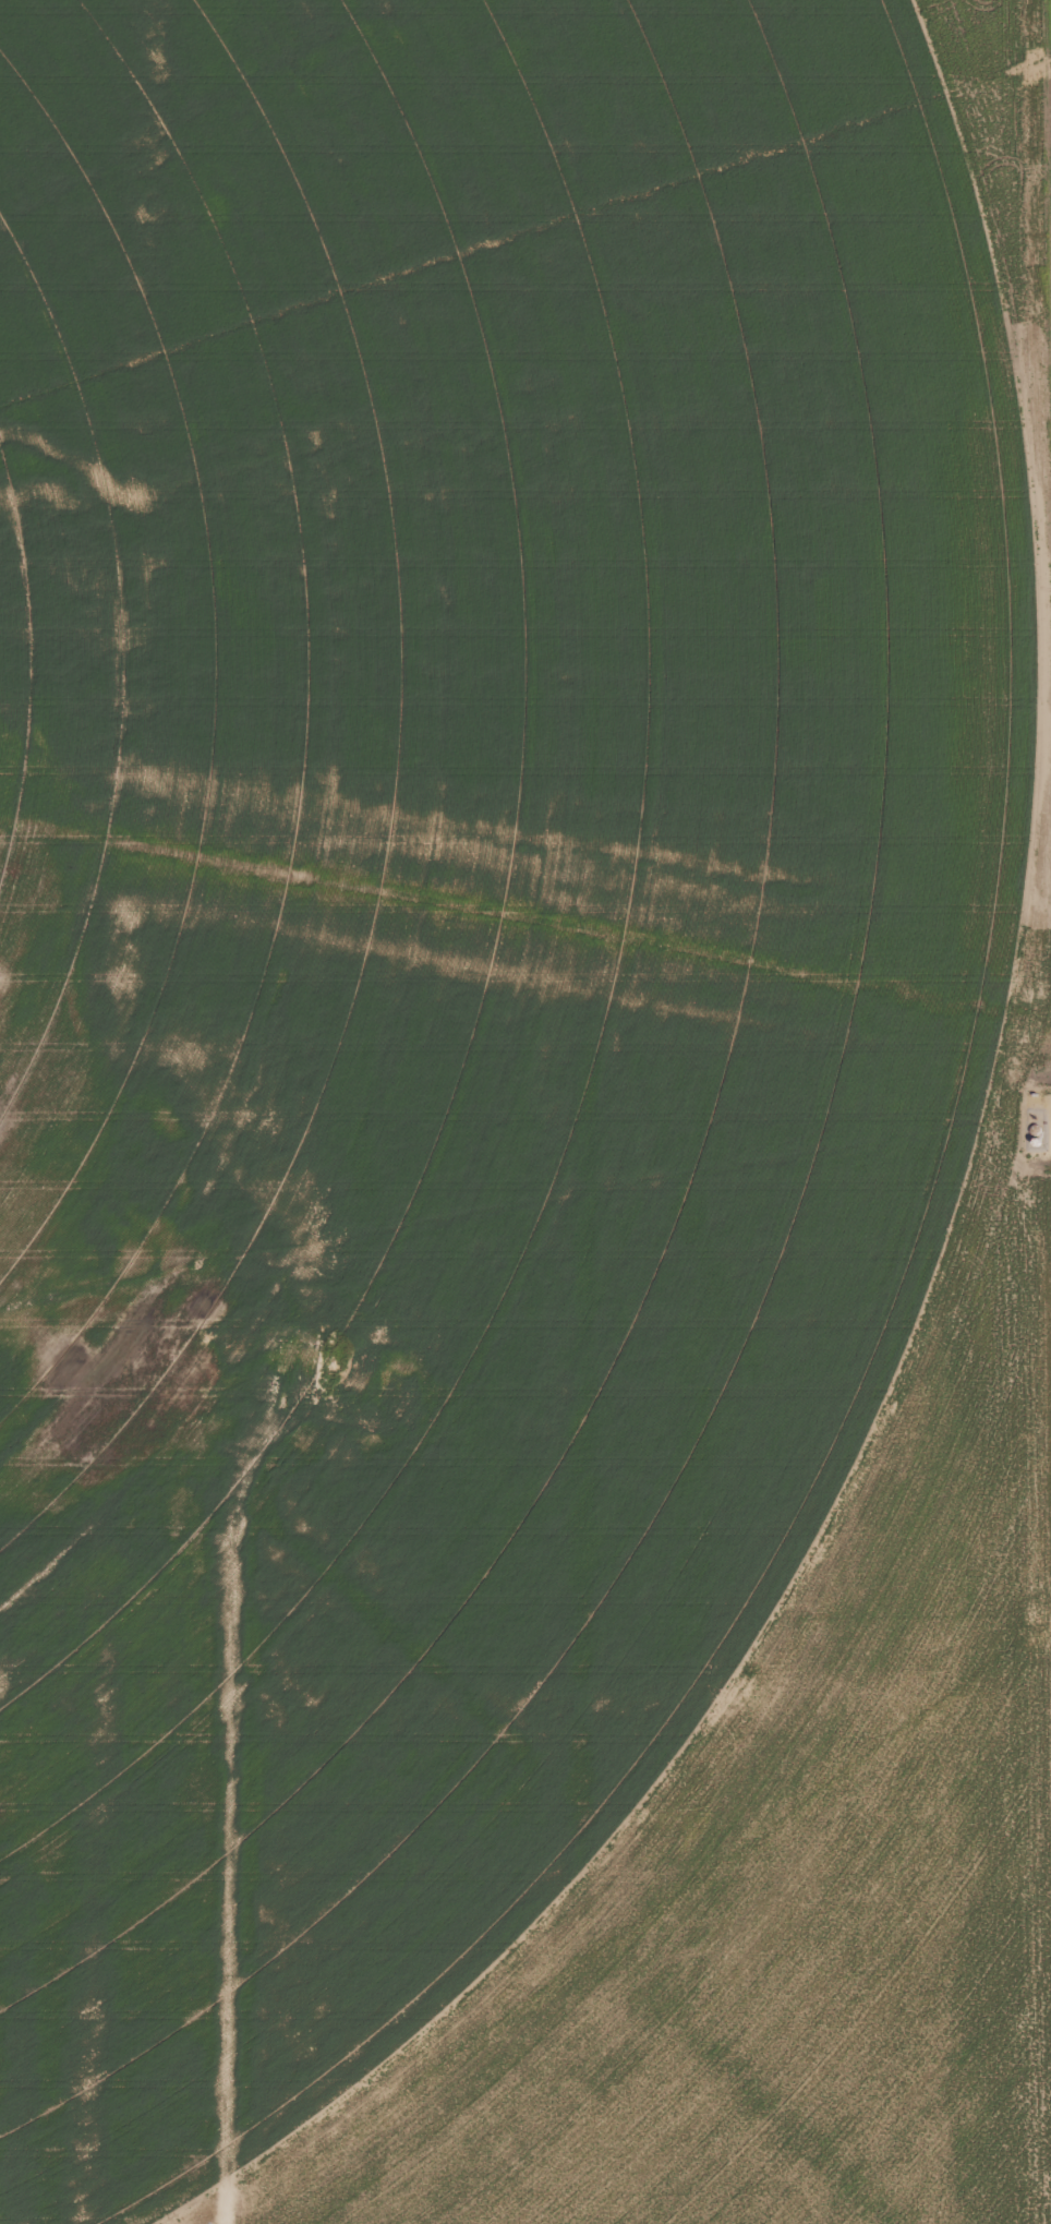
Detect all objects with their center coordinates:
road: (213, 1804)

